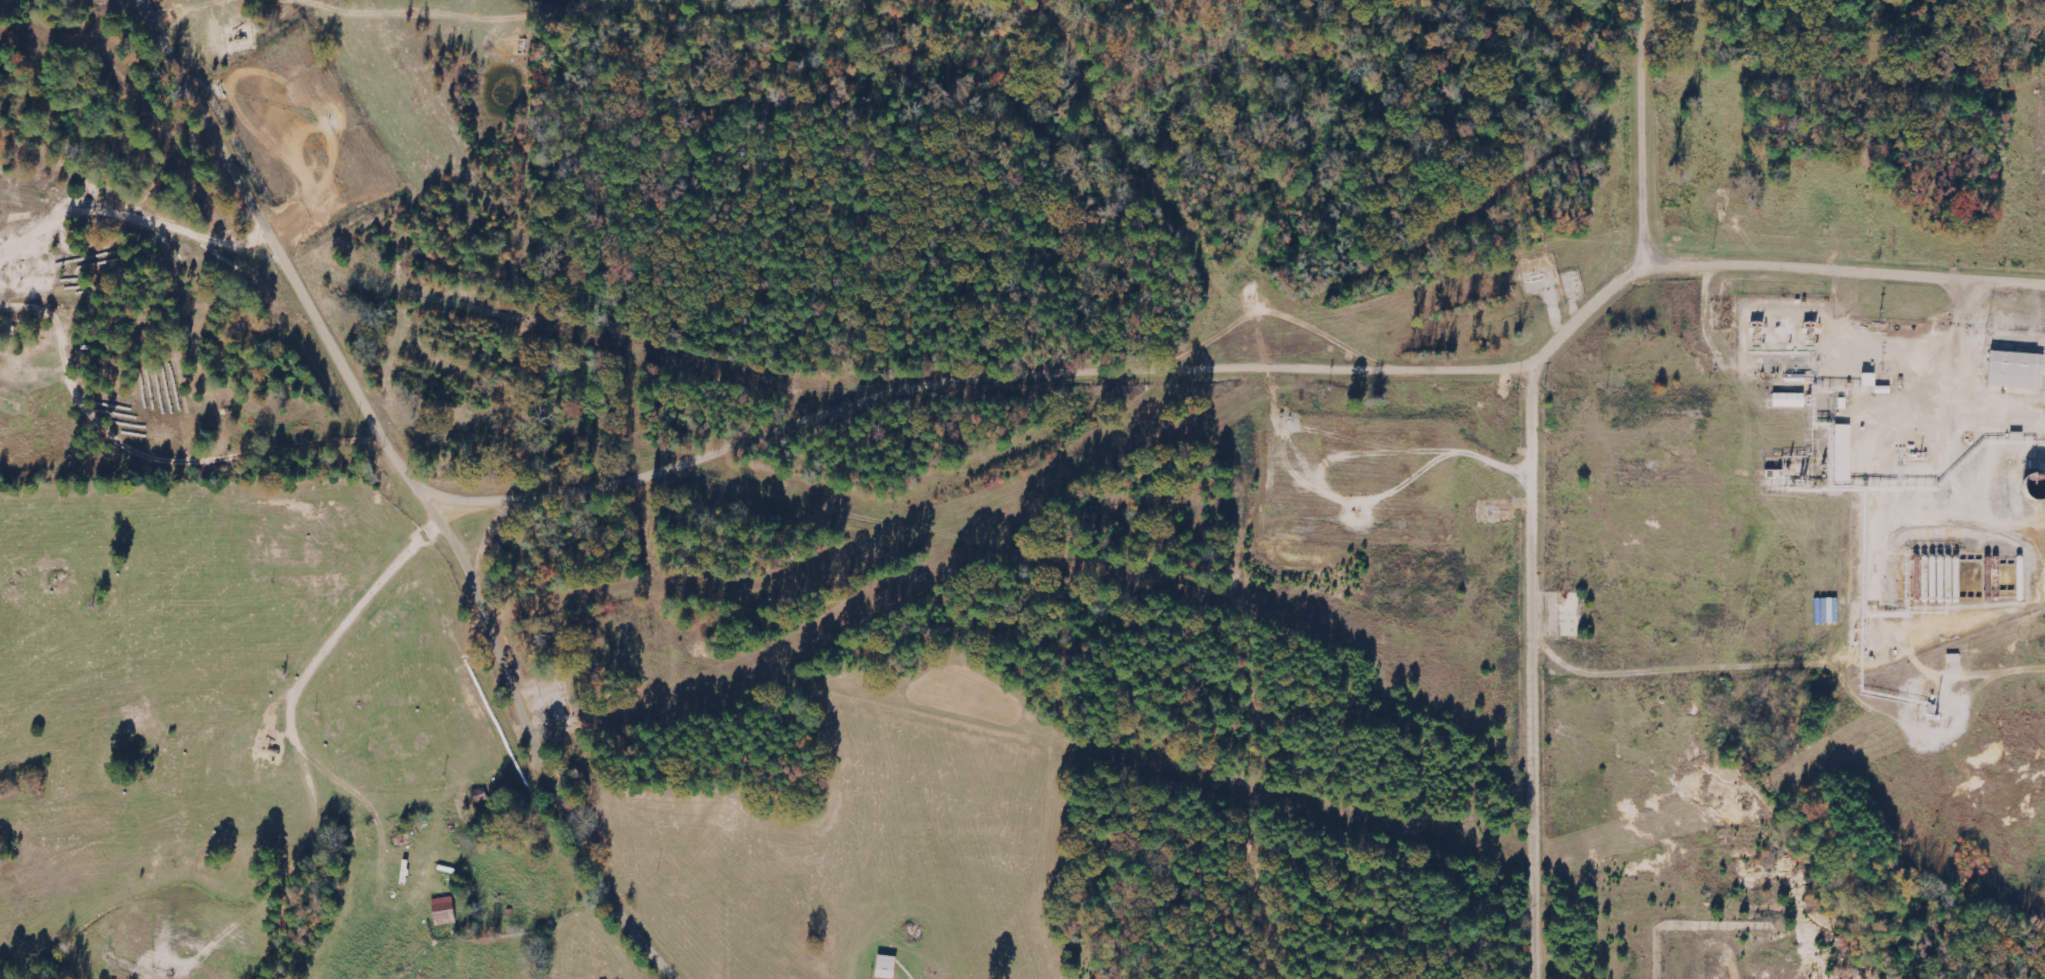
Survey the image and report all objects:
road: (1650, 137)
building: (2018, 370)
road: (1247, 371)
building: (1870, 380)
building: (1790, 400)
building: (1844, 453)
road: (421, 485)
road: (1544, 671)
road: (307, 738)
building: (444, 909)
building: (888, 967)

